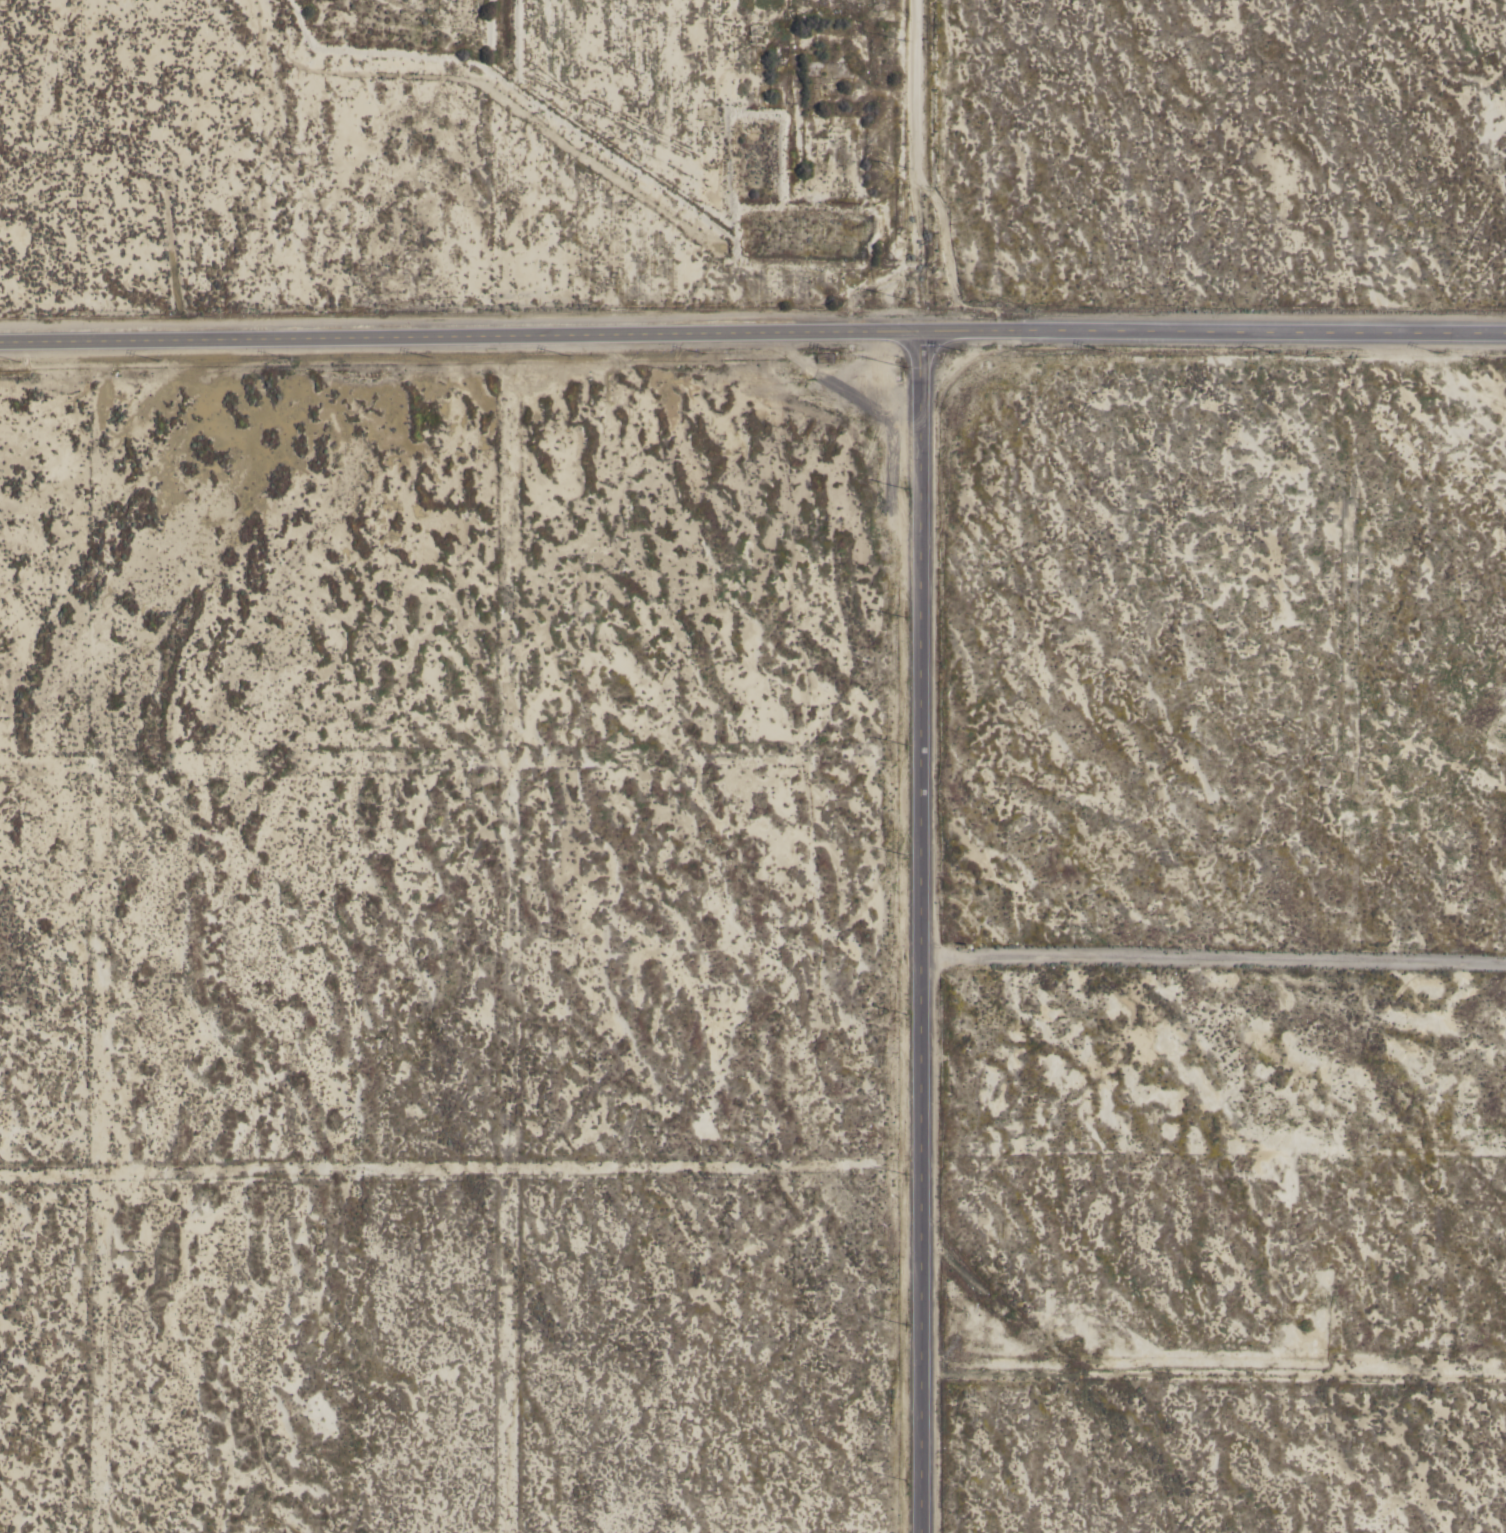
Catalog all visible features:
road: (924, 169)
road: (1216, 338)
road: (463, 342)
road: (918, 935)
road: (1212, 961)

